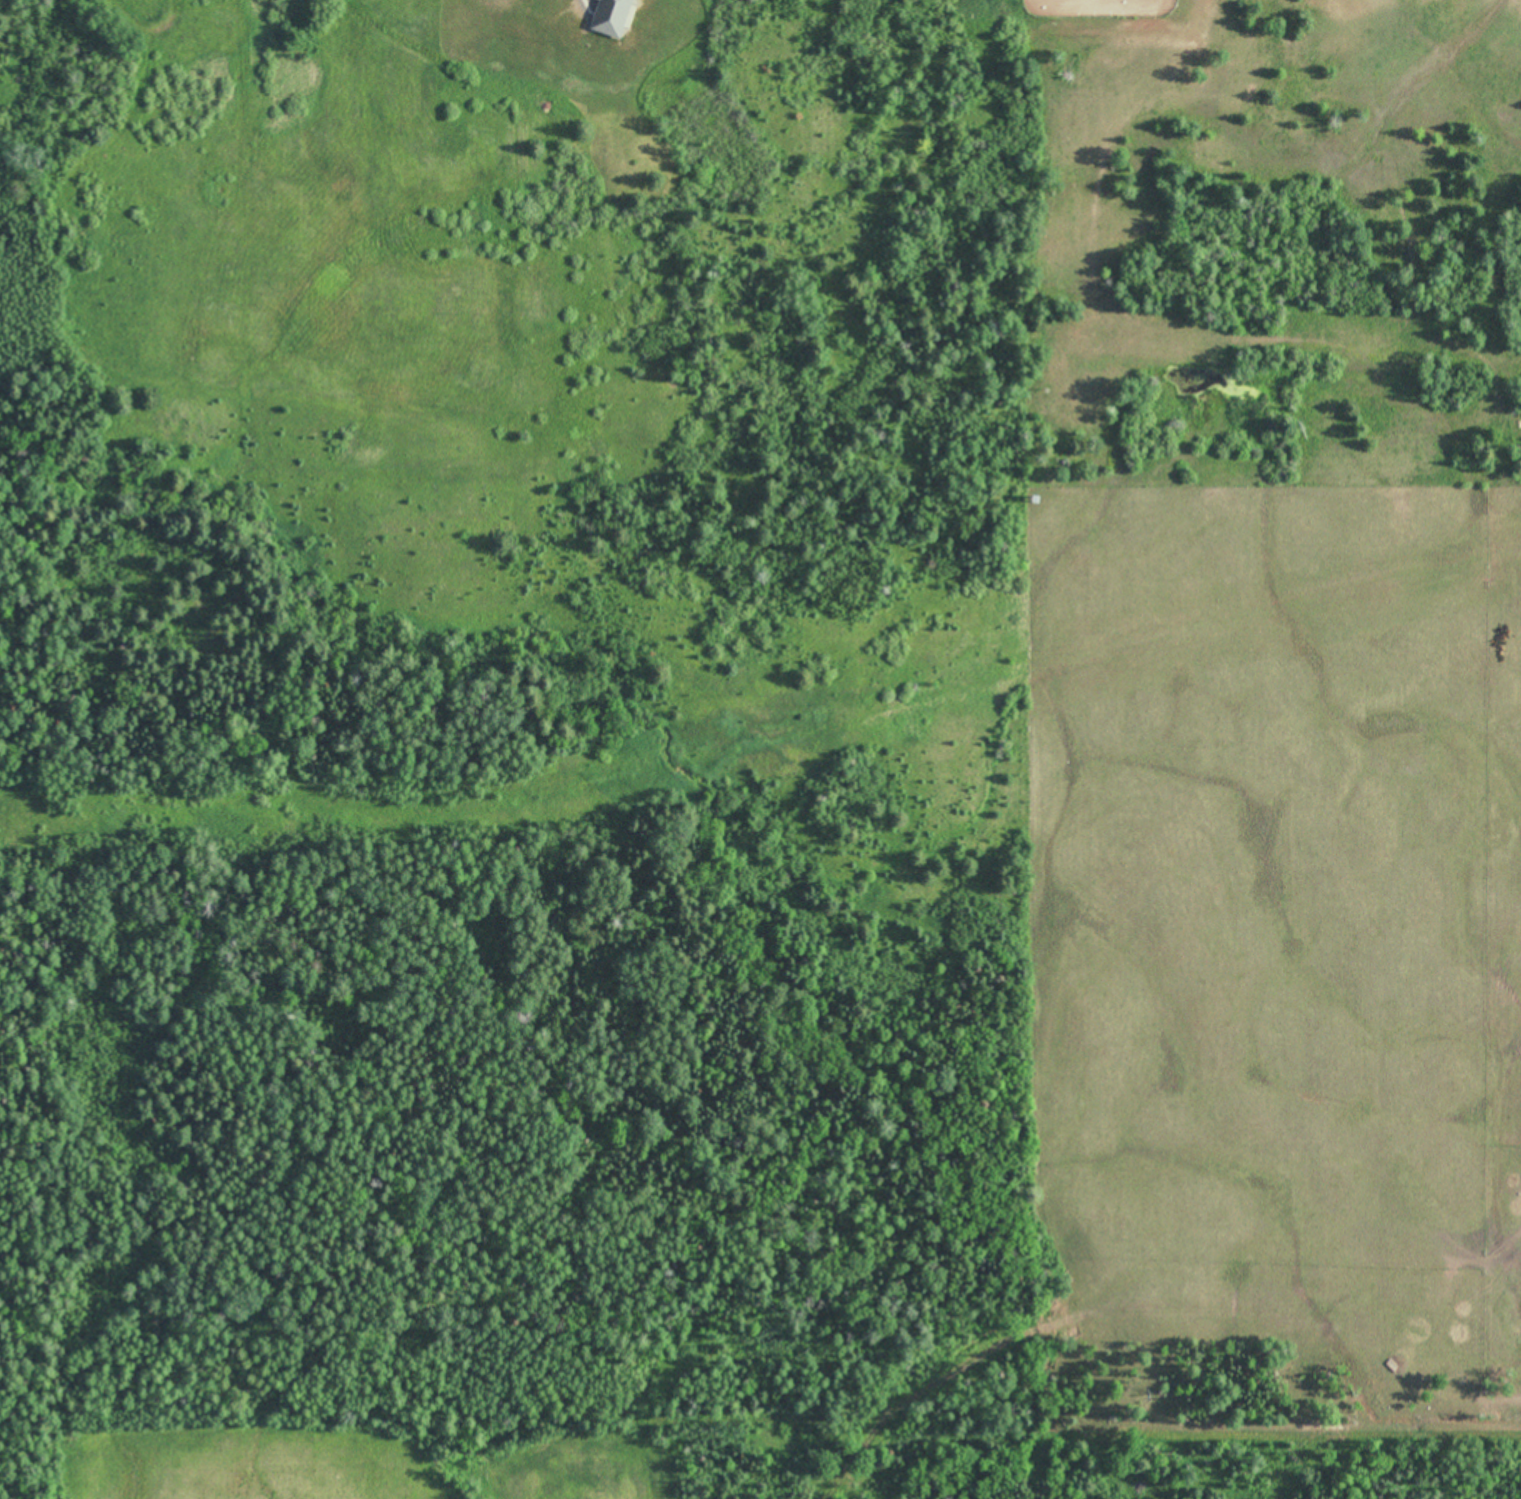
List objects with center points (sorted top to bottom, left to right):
building: (612, 17)
crop: (381, 1460)

